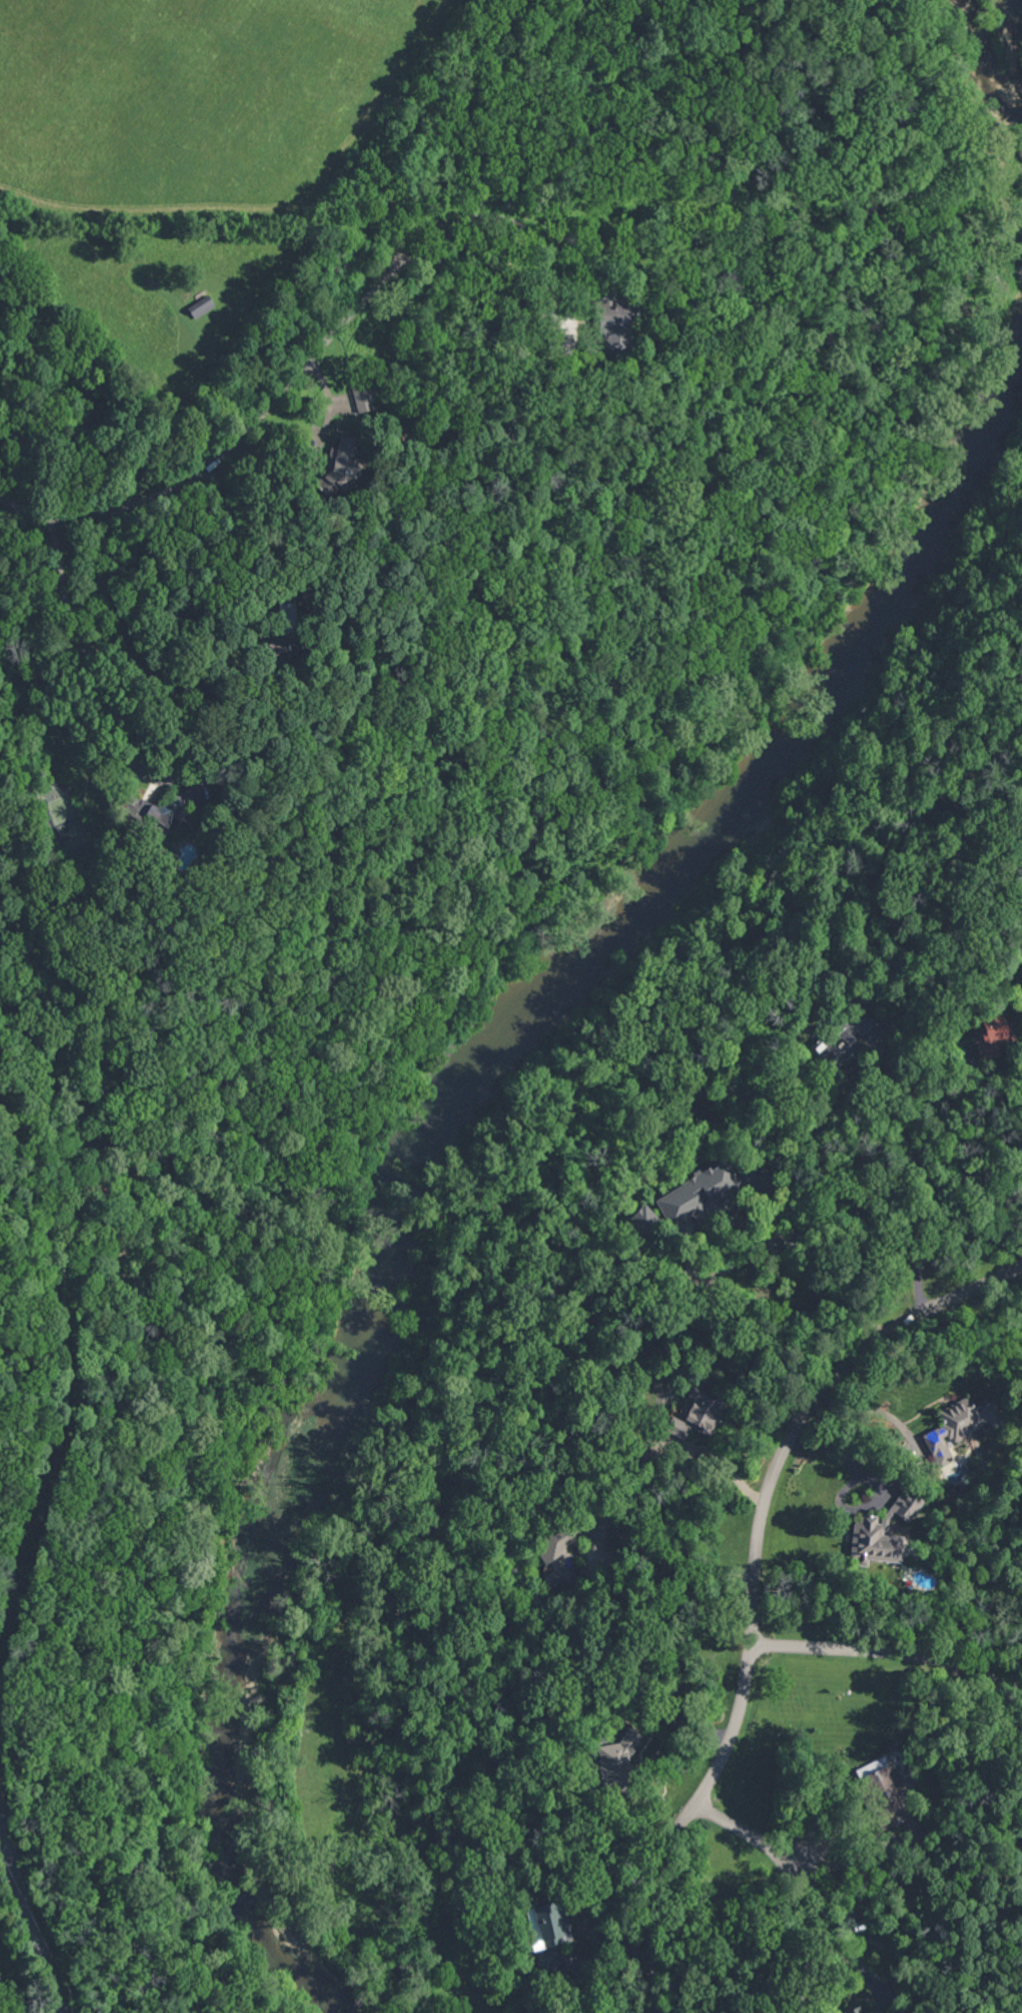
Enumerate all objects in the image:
river: (1015, 34)
road: (527, 230)
building: (613, 318)
building: (358, 397)
road: (247, 432)
road: (223, 578)
road: (92, 665)
building: (146, 811)
building: (989, 1028)
building: (837, 1037)
road: (994, 1072)
river: (428, 1126)
road: (923, 1179)
building: (691, 1192)
building: (638, 1218)
road: (778, 1248)
building: (691, 1414)
building: (955, 1424)
road: (901, 1465)
building: (595, 1528)
building: (878, 1532)
building: (552, 1555)
road: (695, 1565)
road: (755, 1587)
road: (890, 1651)
building: (610, 1755)
building: (883, 1794)
road: (754, 1836)
road: (27, 1920)
road: (845, 1926)
building: (546, 1930)
road: (894, 1995)
road: (6, 1996)
road: (880, 1998)
building: (849, 2010)
building: (862, 2012)

